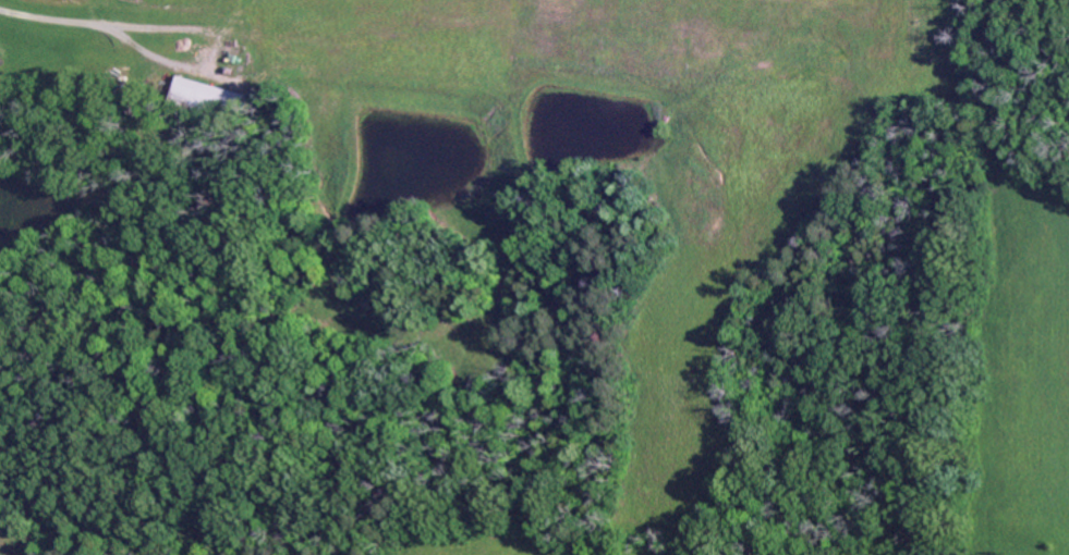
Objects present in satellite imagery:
road: (57, 17)
road: (220, 52)
building: (207, 100)

